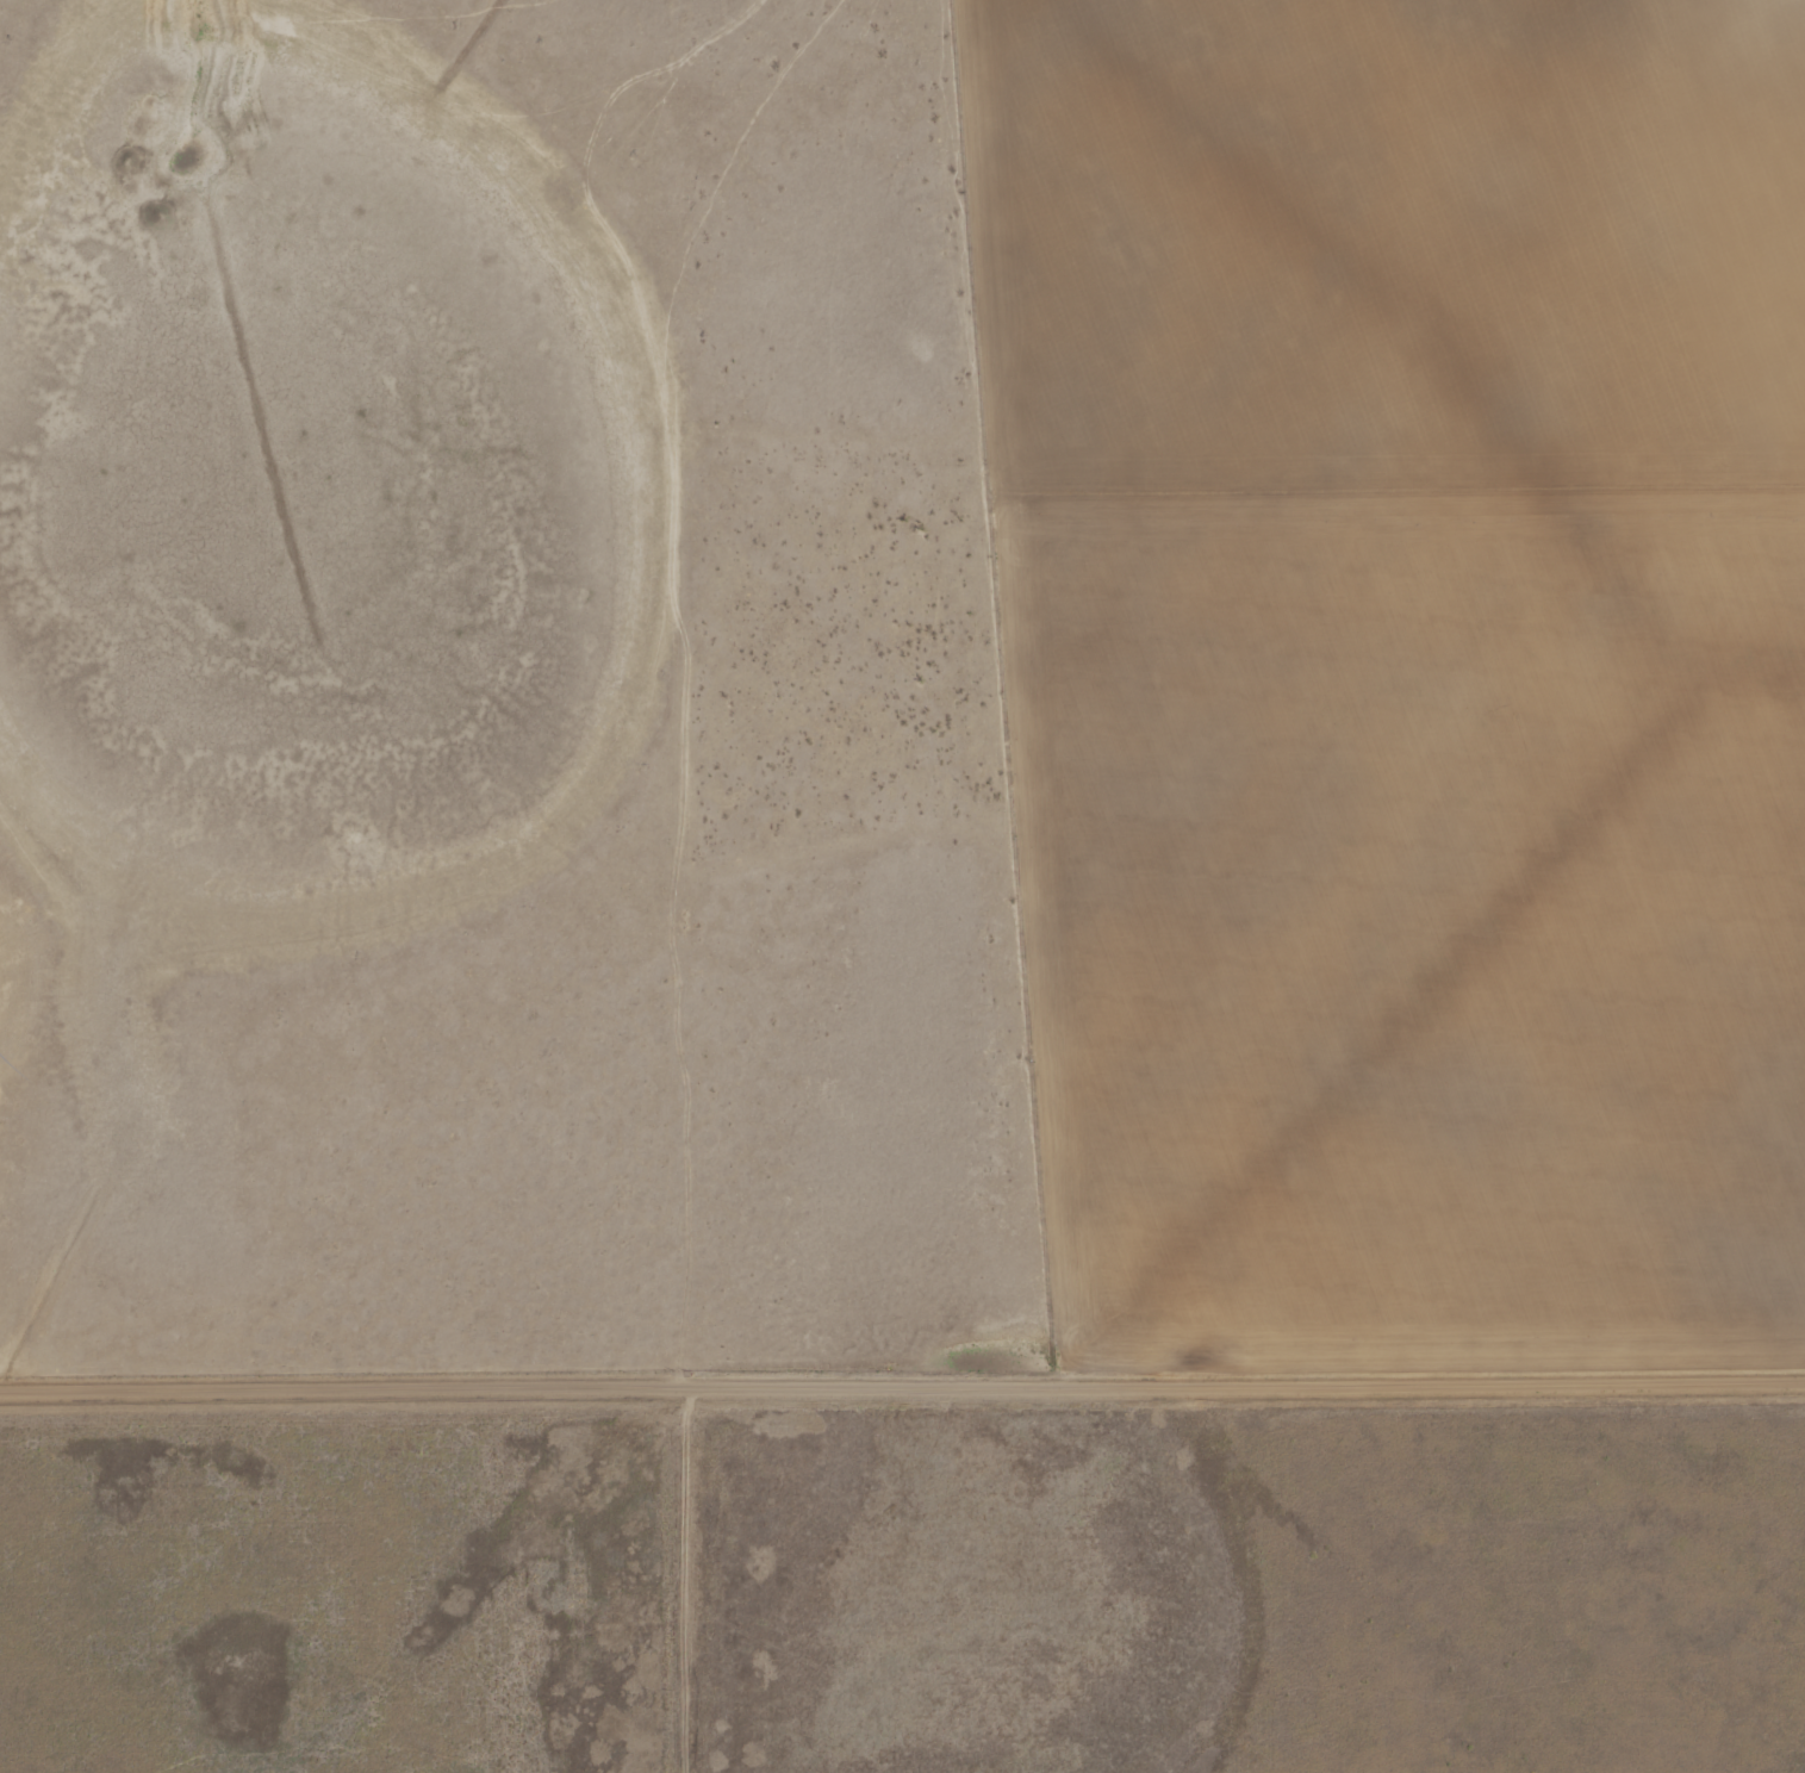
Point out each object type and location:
road: (902, 1382)

